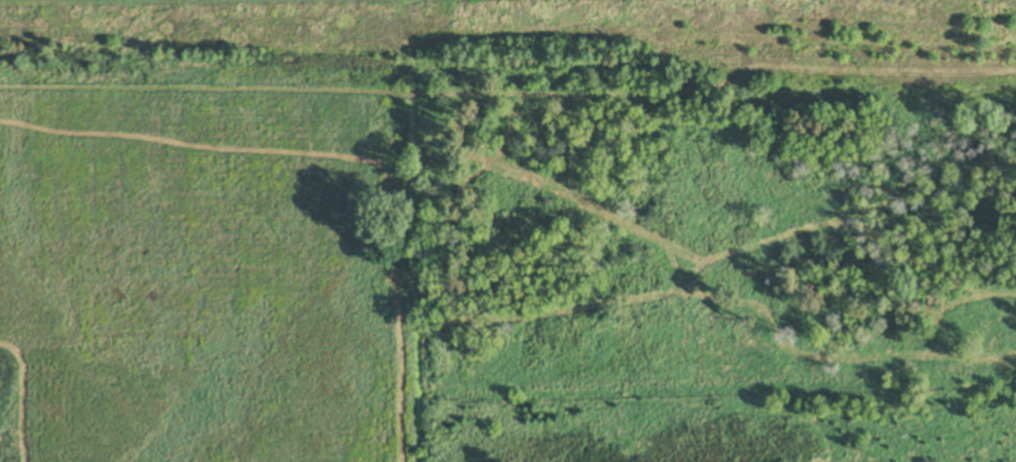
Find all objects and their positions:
building: (765, 278)
building: (934, 294)

